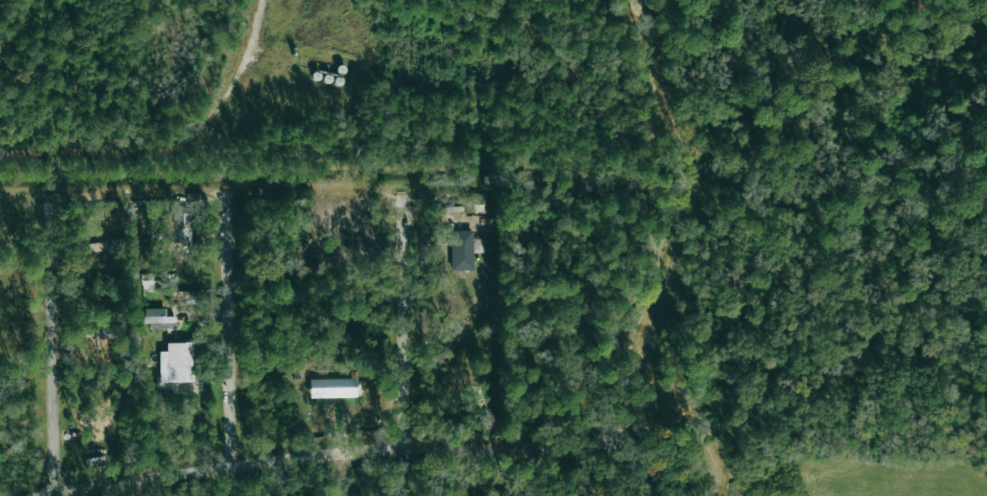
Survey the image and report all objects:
road: (294, 71)
road: (237, 74)
road: (96, 147)
building: (180, 225)
building: (103, 248)
building: (461, 249)
building: (176, 295)
building: (158, 318)
road: (402, 321)
road: (229, 327)
road: (52, 345)
building: (177, 362)
road: (347, 452)

